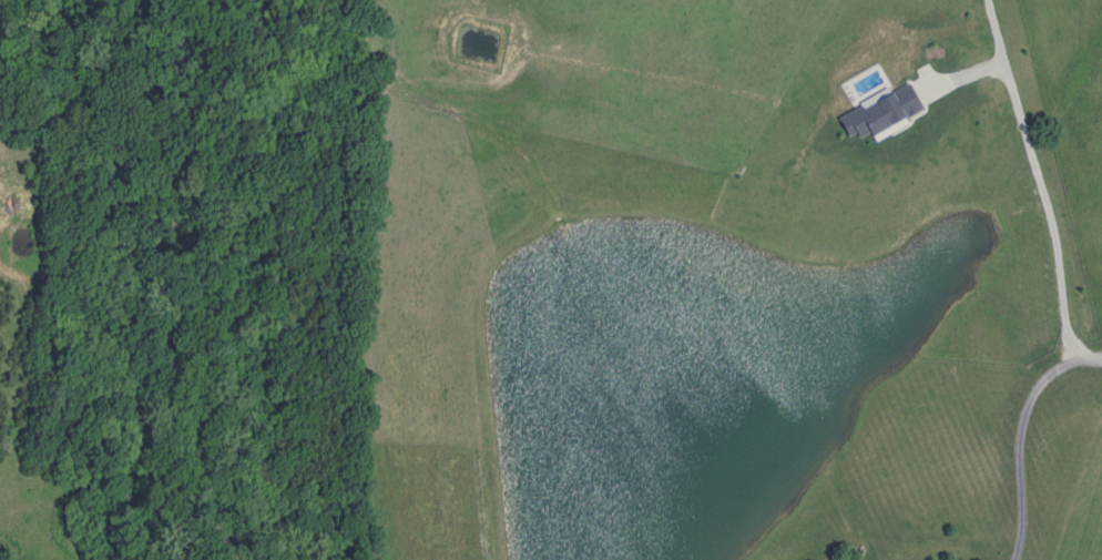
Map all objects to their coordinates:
road: (1033, 176)
road: (1016, 430)

